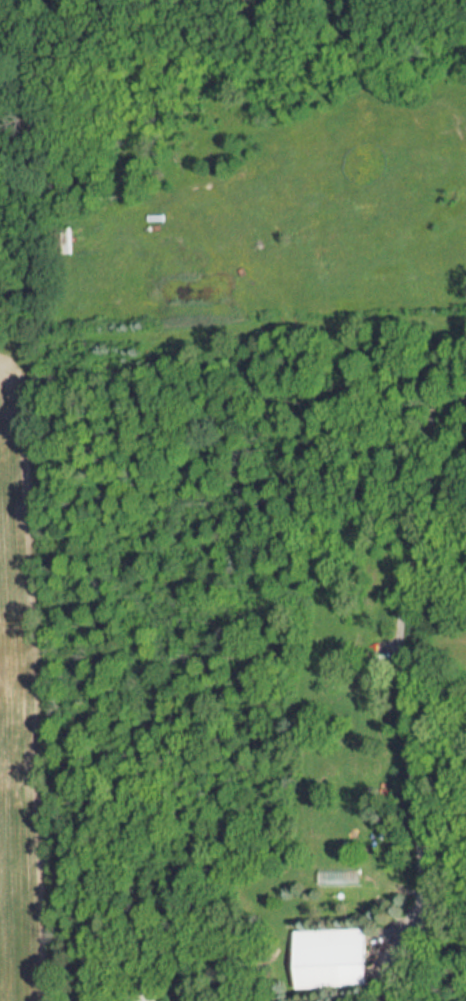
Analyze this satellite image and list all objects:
building: (332, 958)

